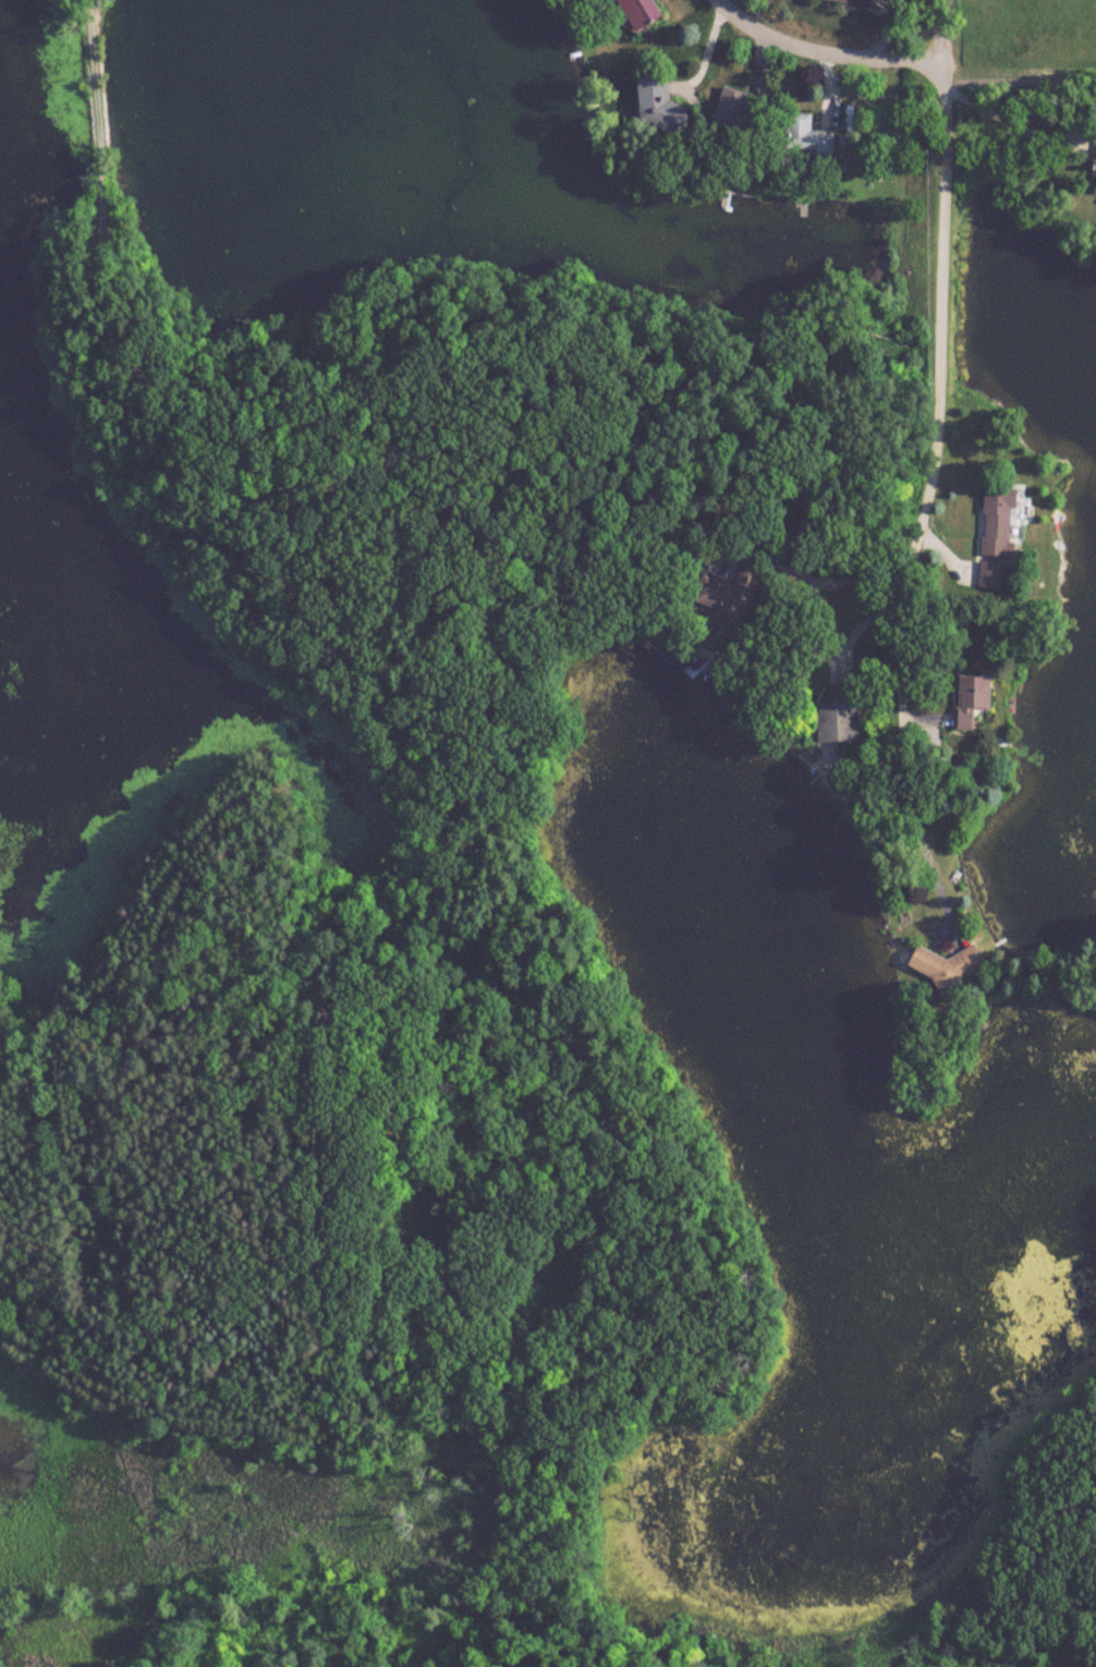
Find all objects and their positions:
building: (860, 2)
building: (638, 12)
road: (936, 22)
road: (887, 28)
road: (703, 49)
road: (815, 50)
road: (757, 64)
road: (935, 74)
road: (825, 85)
road: (687, 92)
building: (660, 105)
building: (730, 107)
road: (1011, 123)
building: (809, 136)
building: (1095, 174)
road: (107, 297)
road: (926, 518)
building: (1002, 520)
road: (948, 556)
building: (991, 572)
road: (823, 573)
building: (738, 592)
road: (874, 612)
building: (976, 698)
building: (843, 711)
building: (950, 965)

